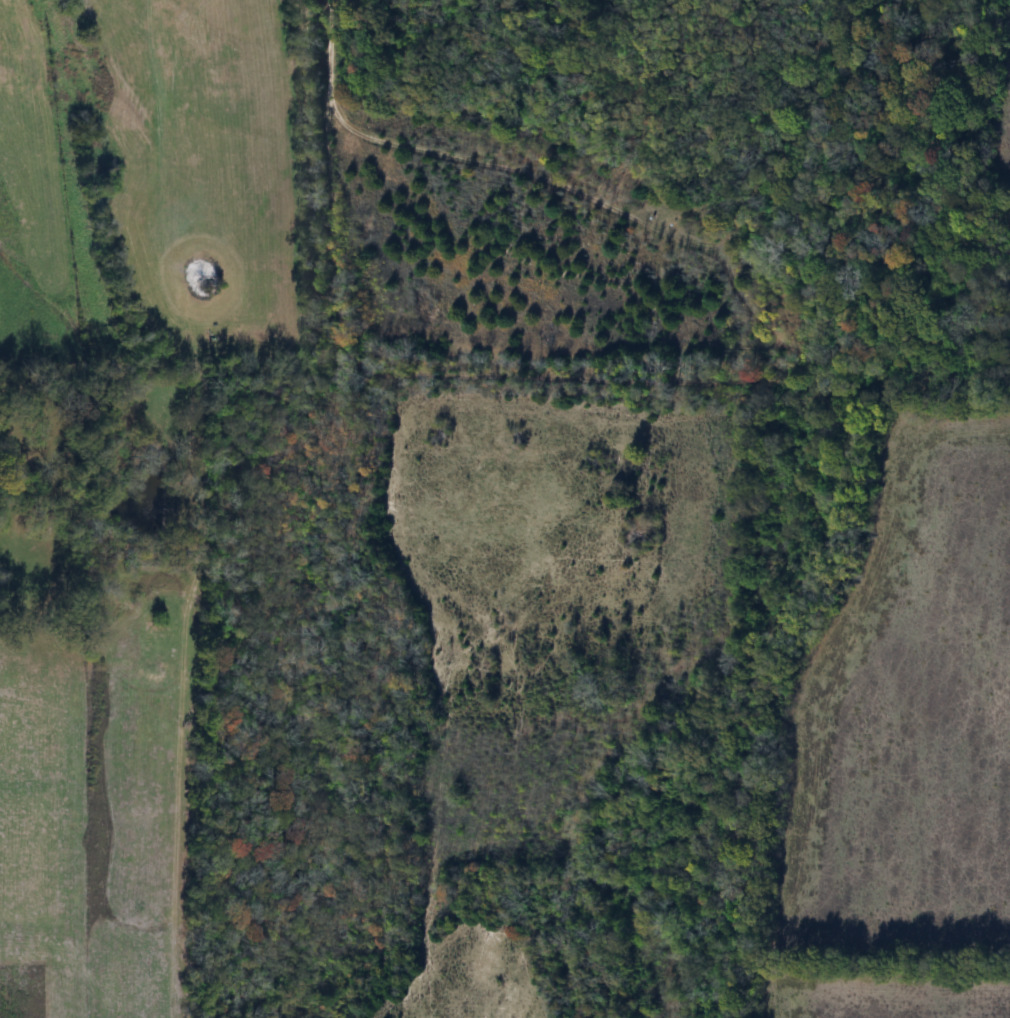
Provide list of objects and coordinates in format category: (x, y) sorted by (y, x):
road: (302, 13)

